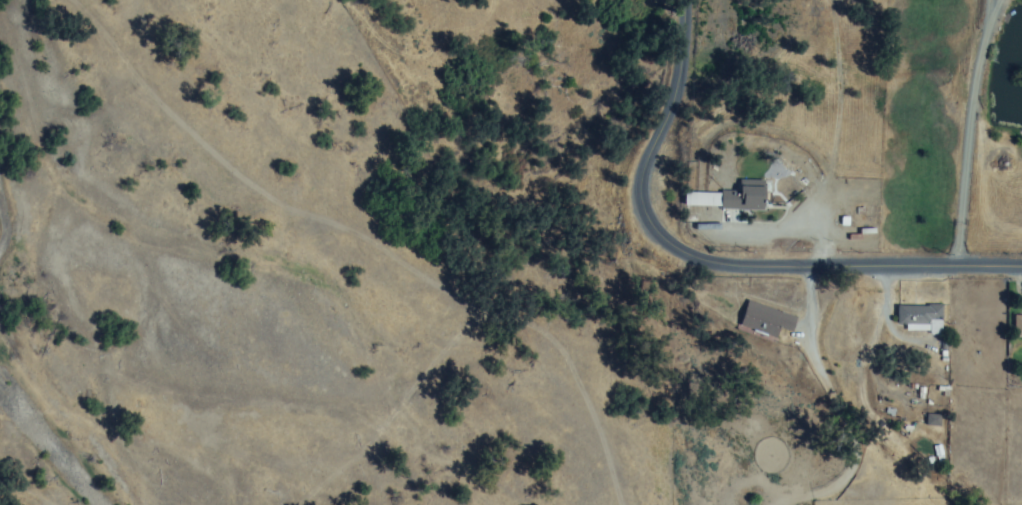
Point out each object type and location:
crop: (658, 48)
road: (969, 131)
building: (745, 196)
river: (4, 203)
road: (720, 263)
building: (918, 317)
building: (763, 321)
building: (1017, 328)
river: (46, 451)

